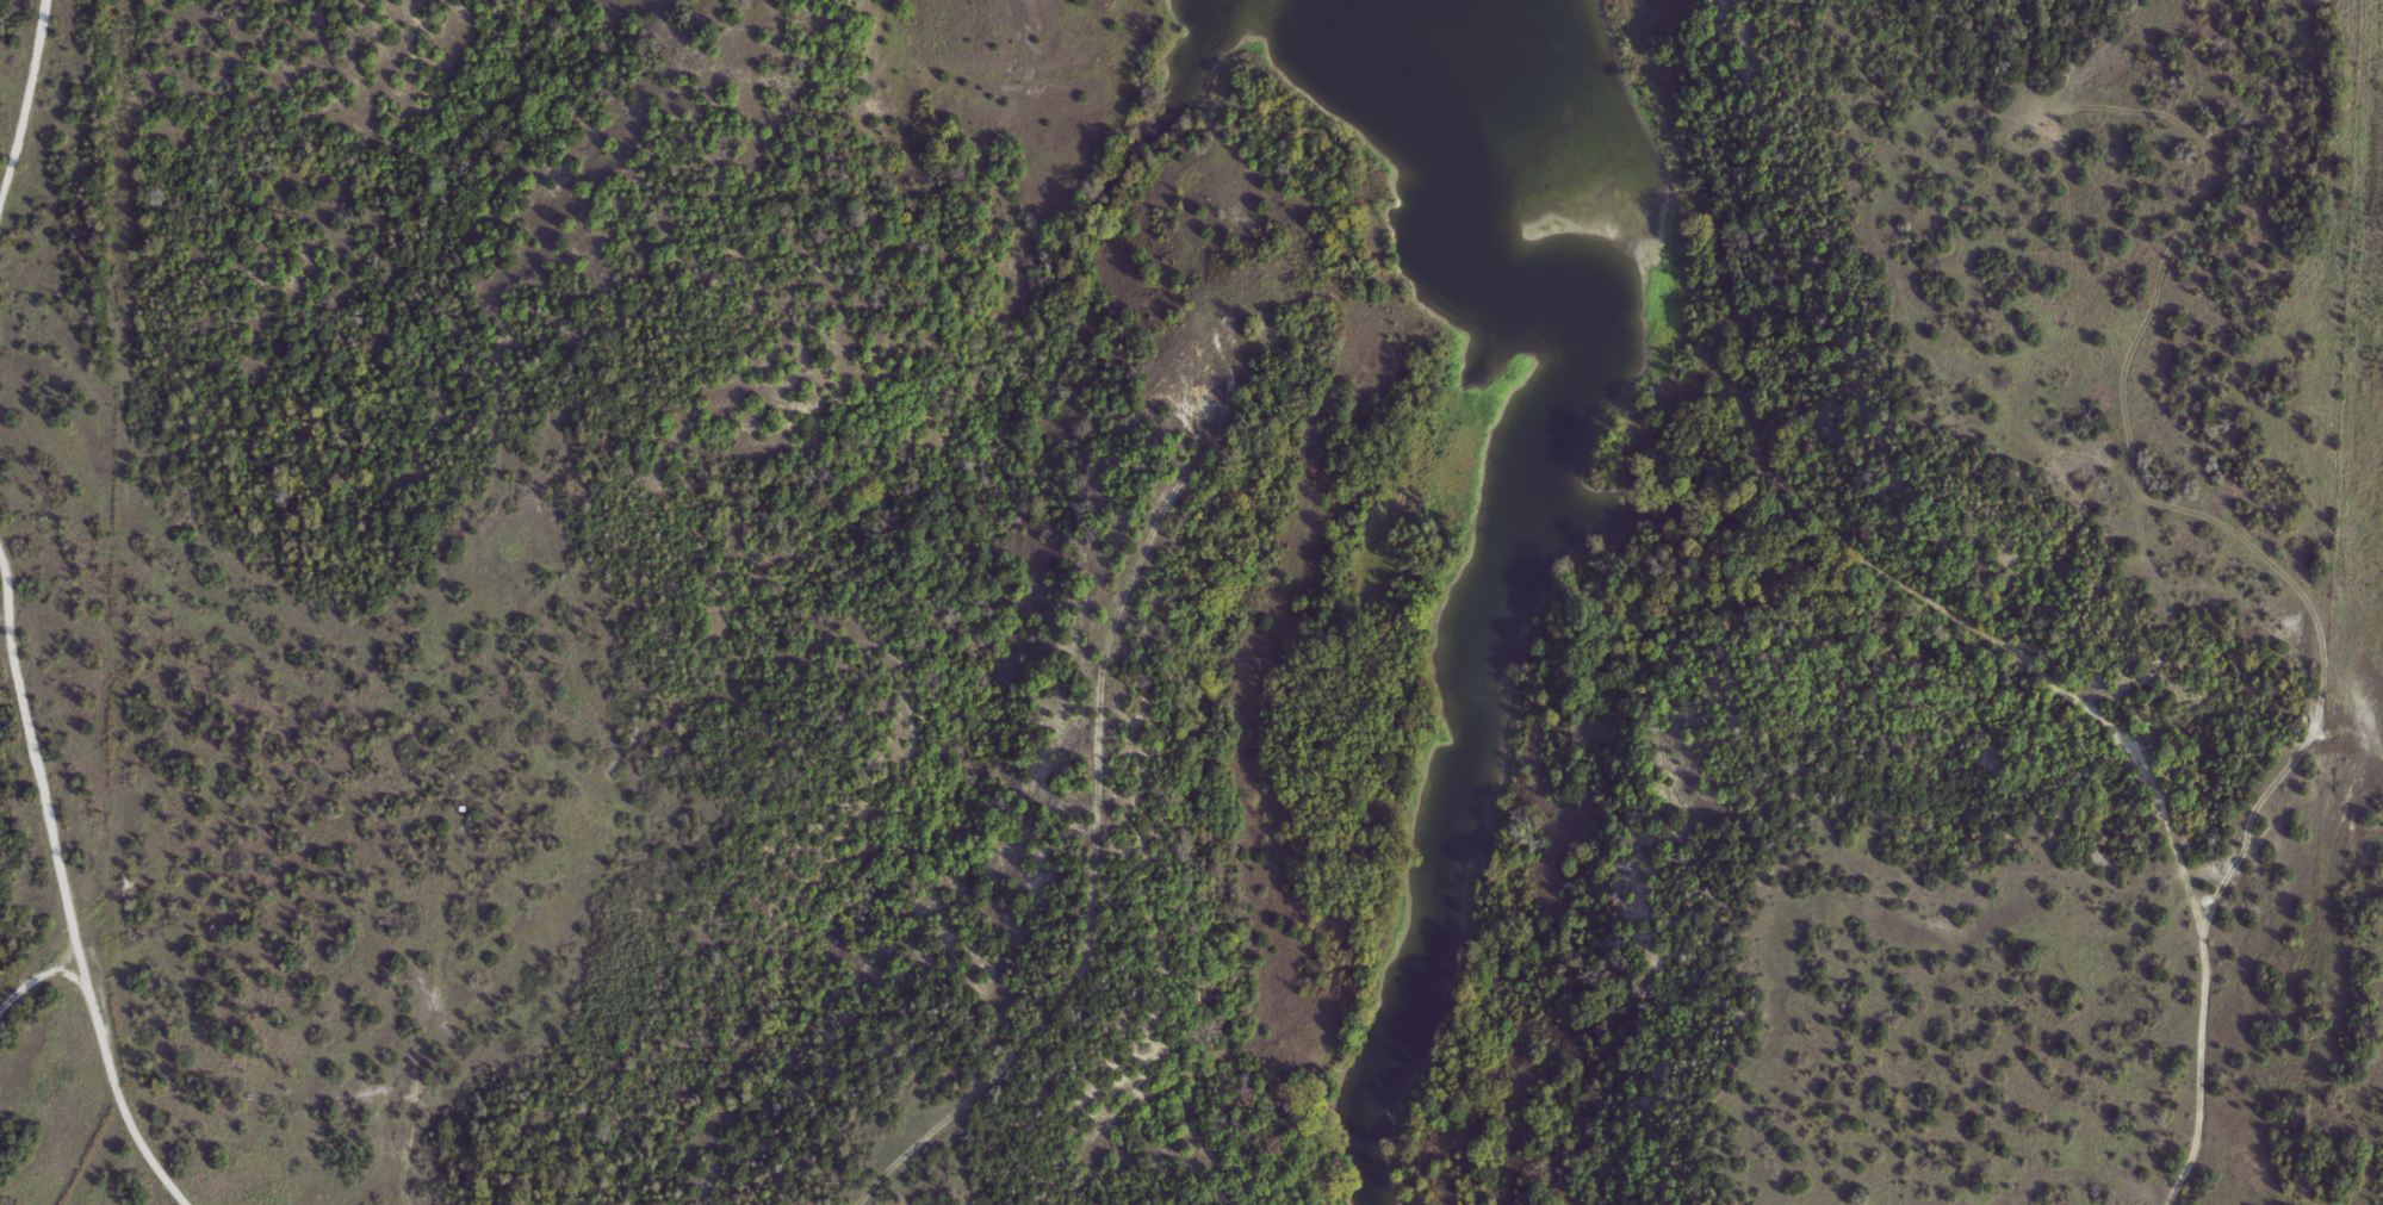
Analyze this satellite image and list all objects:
road: (15, 97)
road: (1961, 601)
road: (1097, 770)
road: (68, 905)

